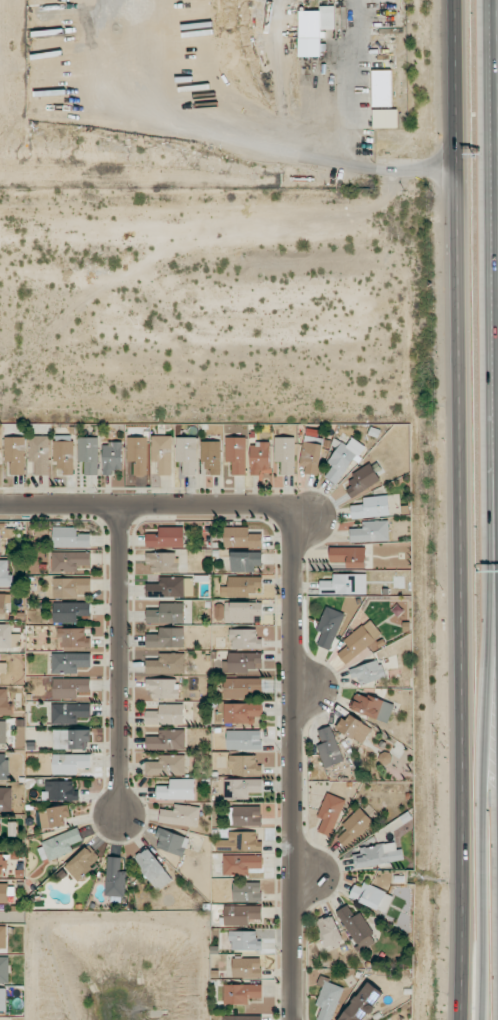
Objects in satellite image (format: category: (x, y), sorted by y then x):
building: (316, 21)
building: (310, 47)
building: (382, 88)
building: (385, 118)
building: (40, 453)
building: (162, 453)
building: (16, 454)
building: (89, 454)
building: (139, 454)
building: (188, 454)
building: (236, 454)
building: (285, 454)
building: (311, 455)
building: (64, 457)
building: (112, 457)
building: (211, 457)
building: (260, 458)
building: (0, 459)
building: (343, 460)
building: (363, 480)
building: (371, 507)
road: (461, 510)
building: (371, 532)
building: (5, 535)
building: (70, 537)
building: (166, 537)
building: (242, 537)
building: (349, 556)
building: (70, 561)
building: (163, 561)
building: (245, 561)
building: (4, 573)
building: (345, 584)
building: (243, 586)
building: (71, 587)
building: (171, 587)
building: (4, 603)
building: (70, 611)
building: (242, 611)
building: (166, 613)
road: (295, 622)
building: (329, 626)
building: (6, 635)
building: (72, 638)
building: (166, 638)
building: (245, 639)
building: (360, 641)
building: (70, 662)
building: (243, 662)
road: (120, 663)
building: (167, 664)
building: (3, 665)
building: (368, 672)
building: (70, 687)
building: (243, 687)
building: (163, 688)
building: (5, 701)
building: (372, 707)
building: (69, 712)
building: (242, 712)
building: (166, 715)
building: (355, 728)
building: (3, 732)
building: (71, 739)
building: (167, 740)
building: (244, 740)
building: (329, 748)
building: (70, 763)
building: (245, 765)
building: (4, 766)
building: (167, 766)
building: (241, 788)
building: (60, 790)
building: (177, 790)
building: (5, 799)
building: (330, 813)
building: (181, 815)
building: (246, 815)
building: (56, 816)
road: (483, 821)
building: (355, 827)
building: (172, 841)
building: (240, 842)
building: (59, 845)
building: (378, 855)
building: (82, 863)
building: (241, 864)
building: (2, 865)
building: (153, 868)
building: (115, 878)
building: (247, 891)
building: (4, 894)
building: (371, 896)
building: (241, 914)
building: (357, 928)
building: (329, 930)
building: (3, 937)
building: (244, 940)
building: (247, 968)
building: (4, 969)
building: (241, 993)
building: (329, 998)
building: (3, 1000)
building: (362, 1003)
building: (242, 1017)

